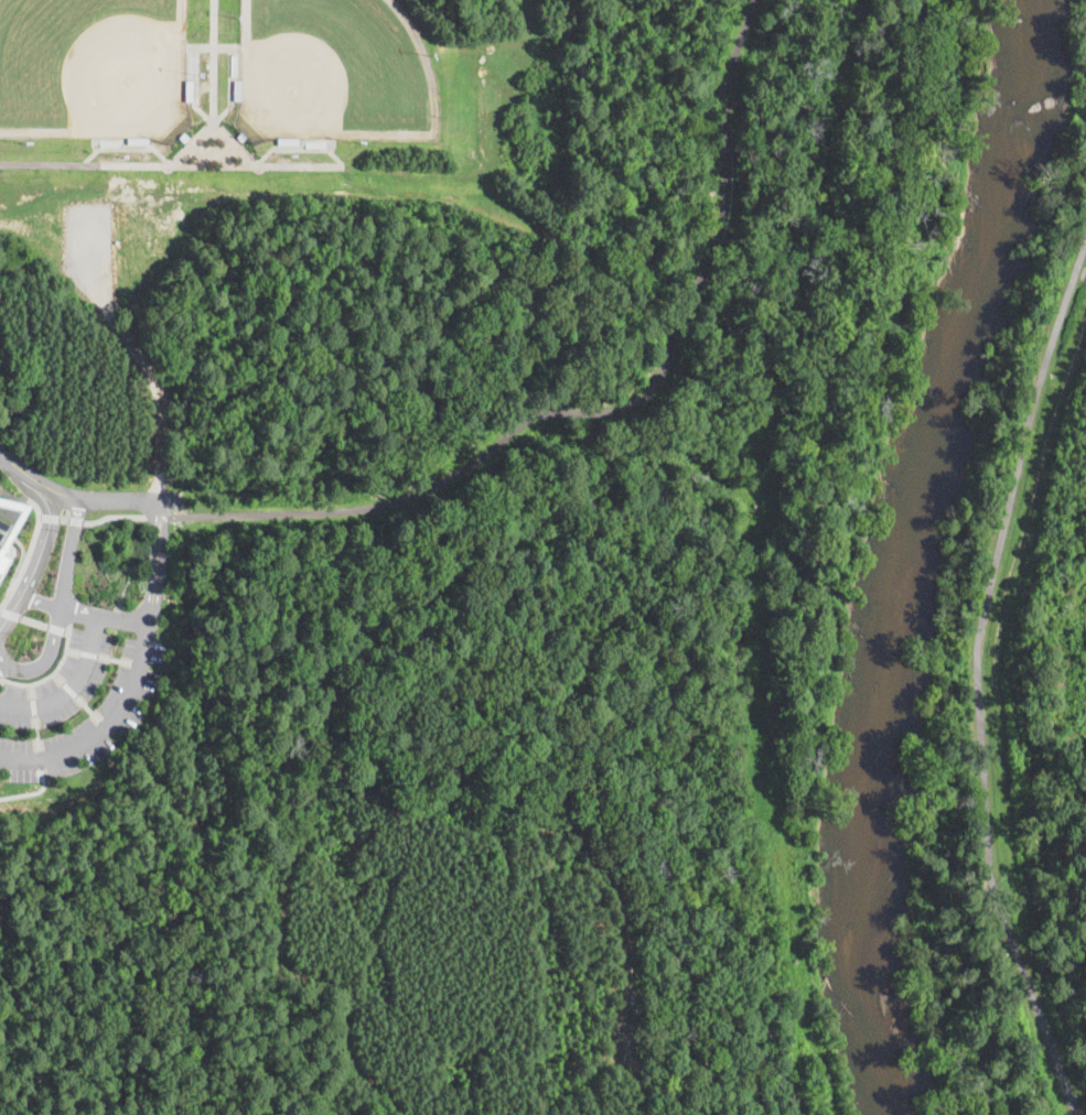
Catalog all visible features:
park: (94, 68)
park: (334, 72)
building: (190, 91)
building: (238, 91)
building: (241, 138)
building: (184, 139)
building: (138, 142)
building: (289, 142)
road: (85, 164)
road: (600, 413)
road: (13, 495)
park: (443, 537)
building: (13, 540)
parking lot: (155, 545)
river: (905, 552)
road: (40, 560)
road: (151, 595)
road: (40, 599)
road: (60, 606)
road: (78, 610)
road: (84, 664)
road: (2, 667)
road: (976, 682)
park: (1009, 754)

